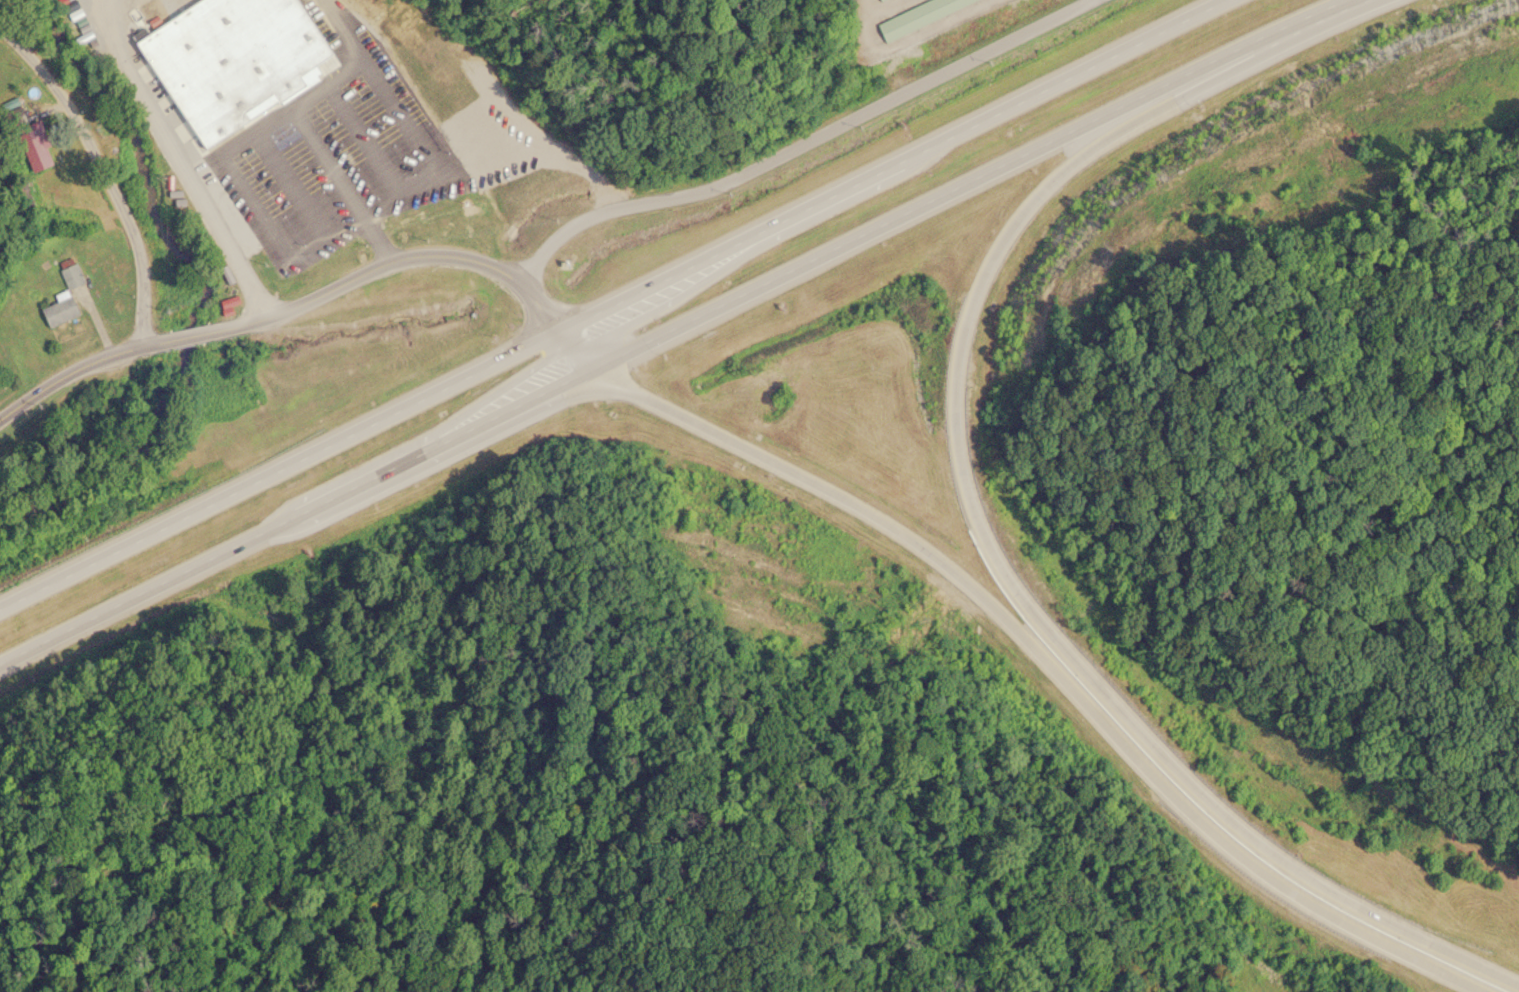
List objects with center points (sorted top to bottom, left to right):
building: (913, 14)
road: (1251, 51)
building: (229, 59)
building: (16, 117)
road: (802, 142)
building: (34, 148)
road: (177, 161)
road: (103, 171)
road: (859, 237)
road: (389, 257)
building: (70, 275)
road: (613, 298)
building: (57, 311)
road: (188, 334)
road: (571, 346)
road: (78, 367)
road: (422, 450)
road: (129, 597)
road: (1048, 627)
road: (1039, 663)

